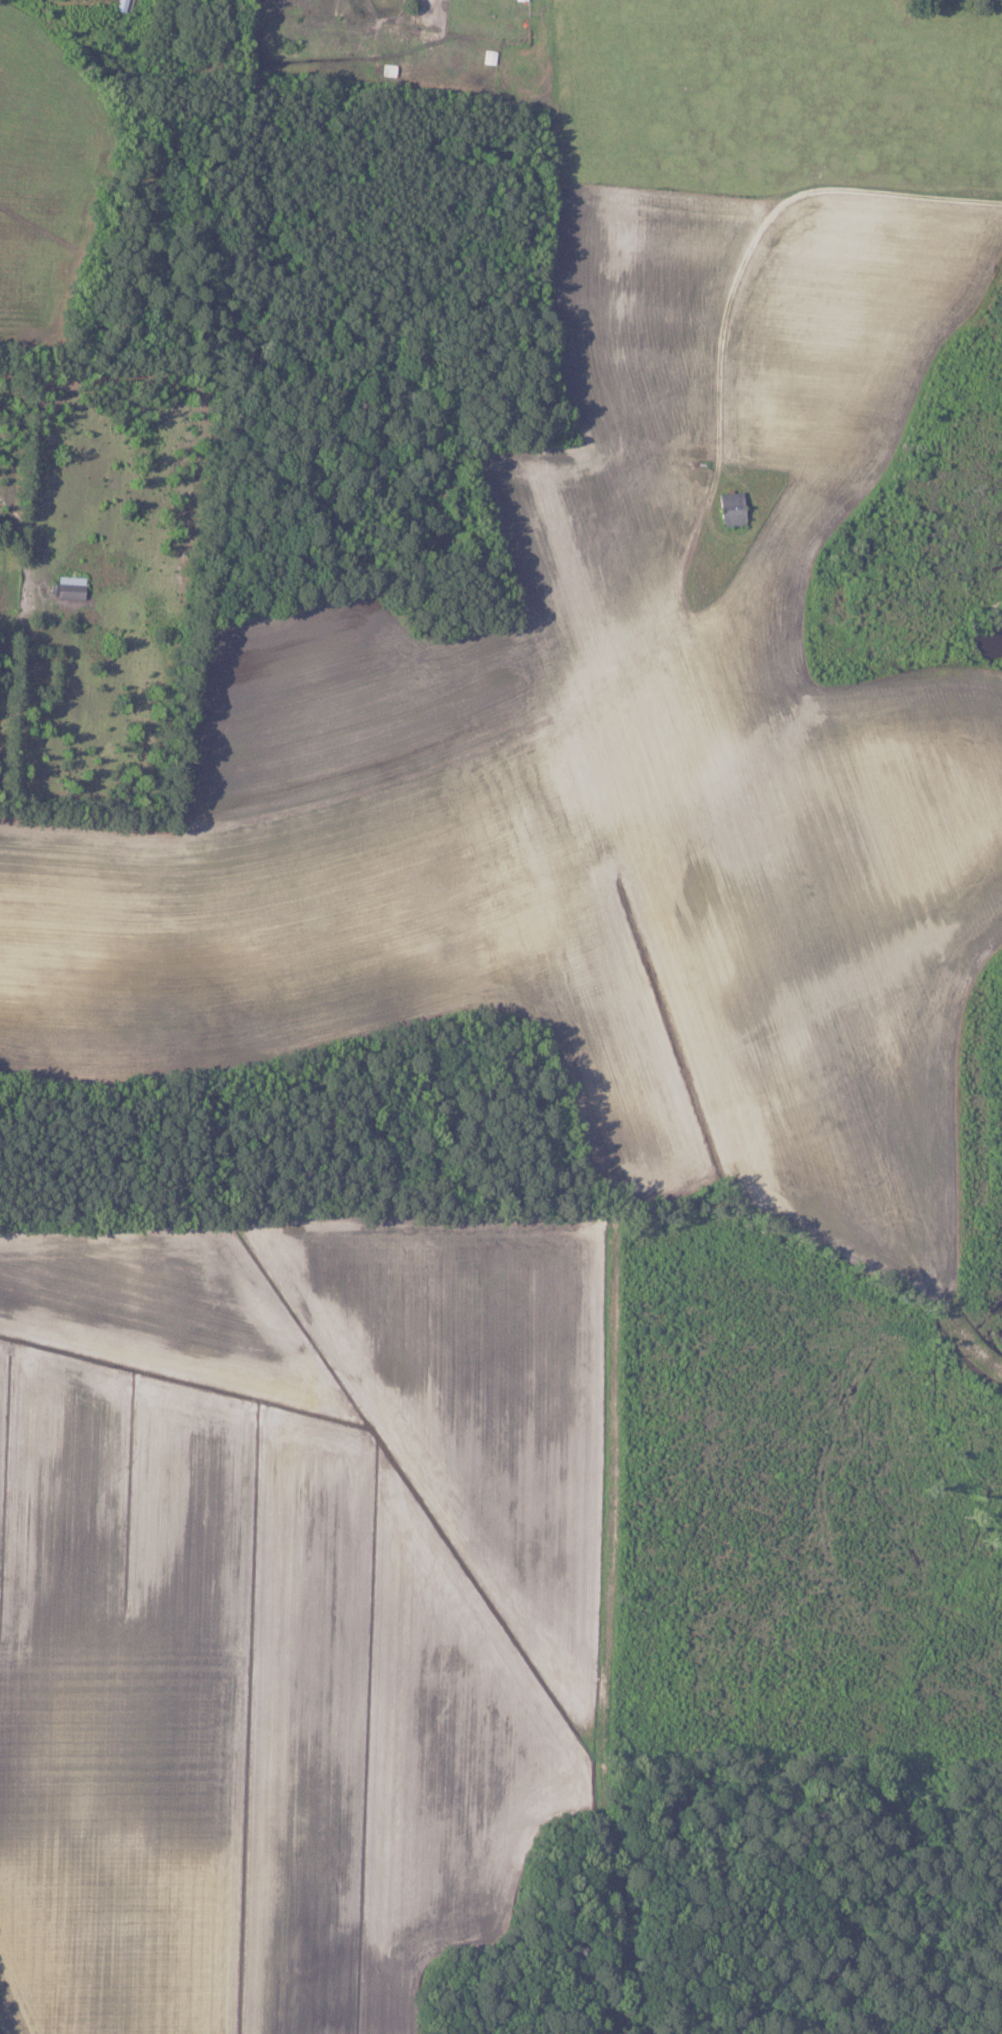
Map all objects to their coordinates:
building: (488, 57)
road: (760, 220)
building: (730, 509)
building: (68, 587)

